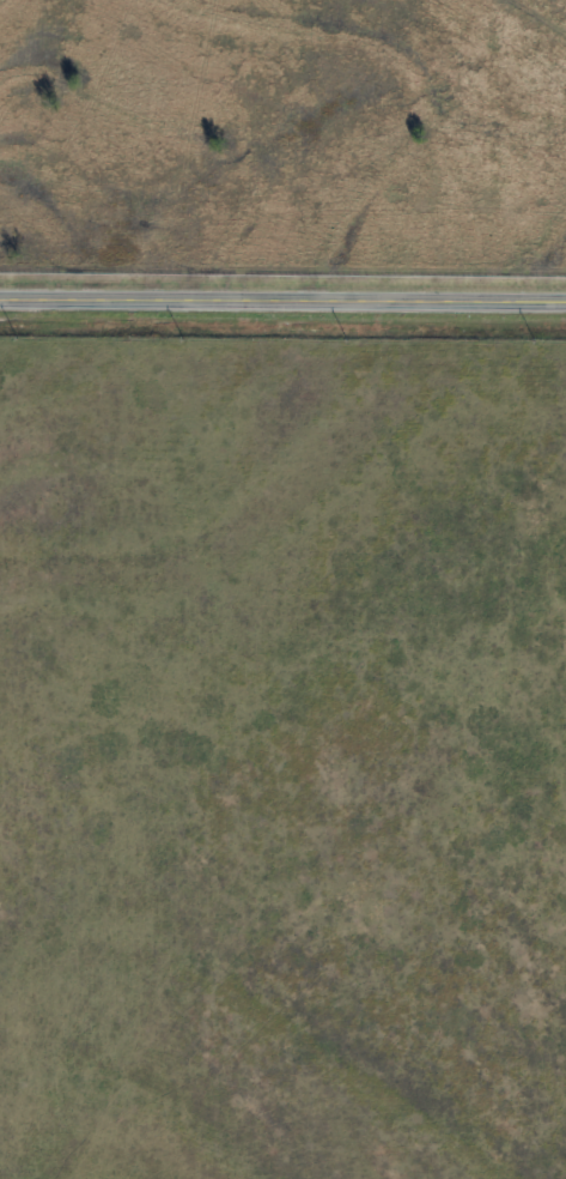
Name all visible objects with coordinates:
road: (282, 301)

